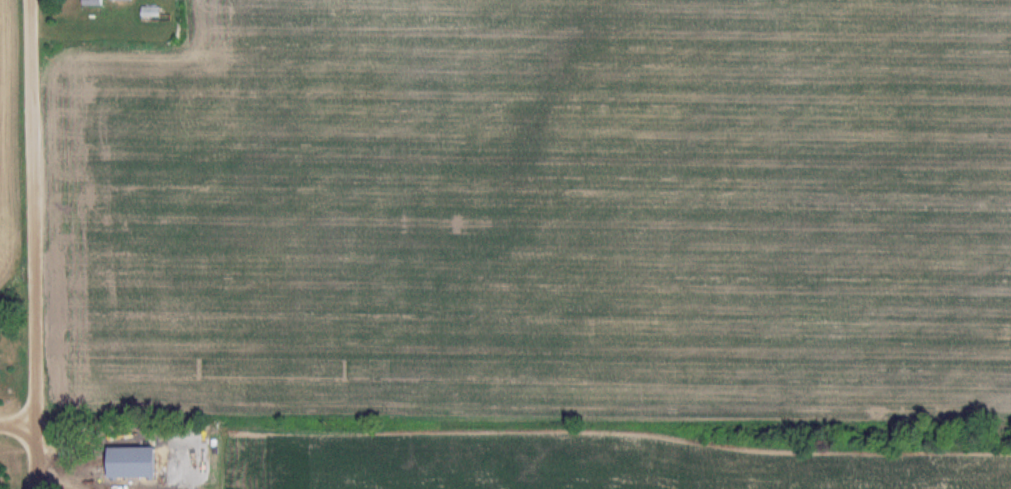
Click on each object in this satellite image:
building: (111, 1)
road: (35, 244)
road: (18, 425)

